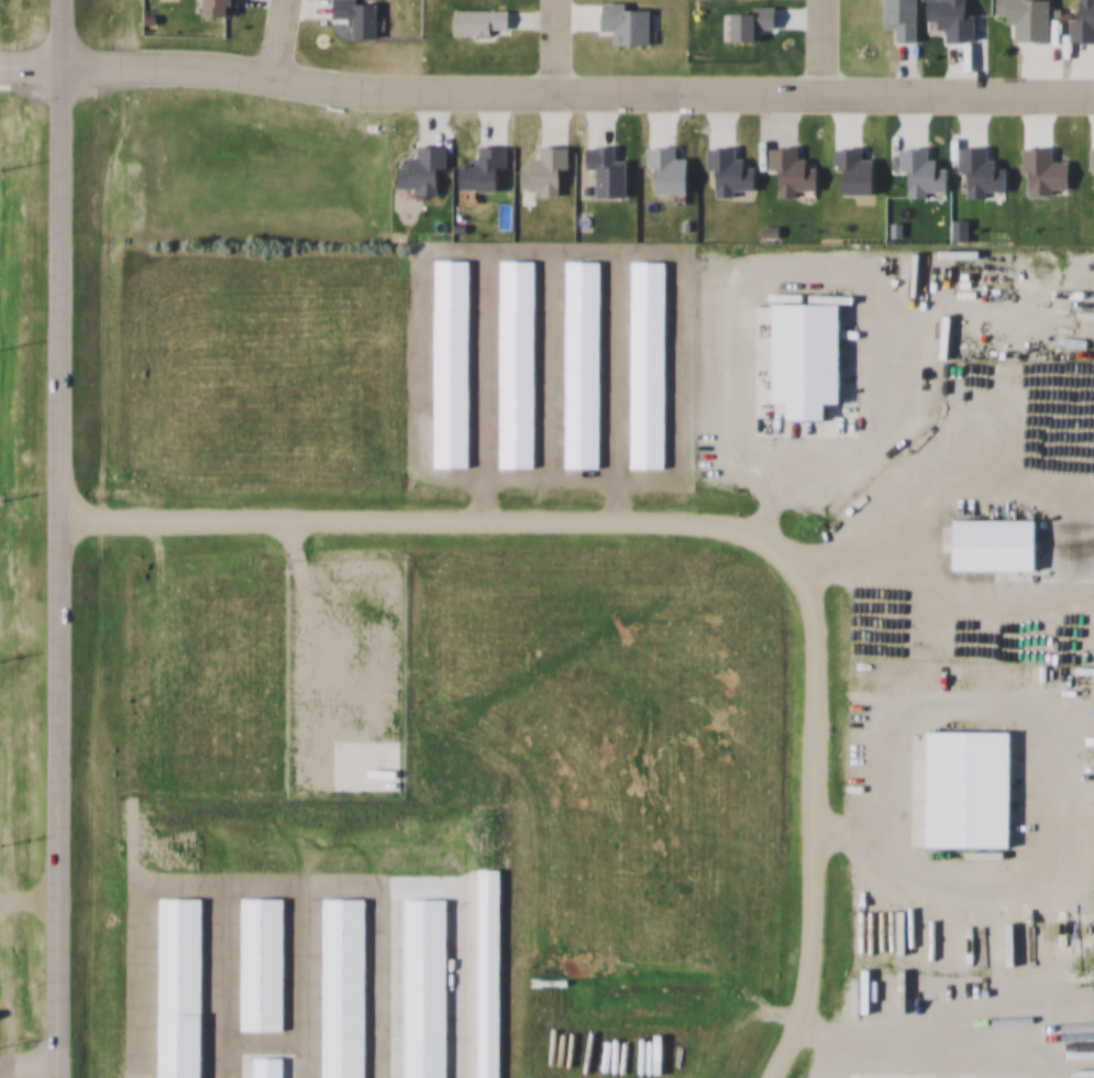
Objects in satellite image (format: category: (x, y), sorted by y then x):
road: (265, 35)
road: (542, 44)
road: (807, 44)
road: (545, 89)
building: (1059, 265)
building: (585, 364)
building: (647, 365)
road: (695, 519)
road: (57, 539)
building: (988, 543)
building: (962, 790)
road: (29, 895)
building: (264, 964)
building: (491, 974)
building: (183, 987)
building: (346, 988)
building: (428, 988)
building: (270, 1067)

